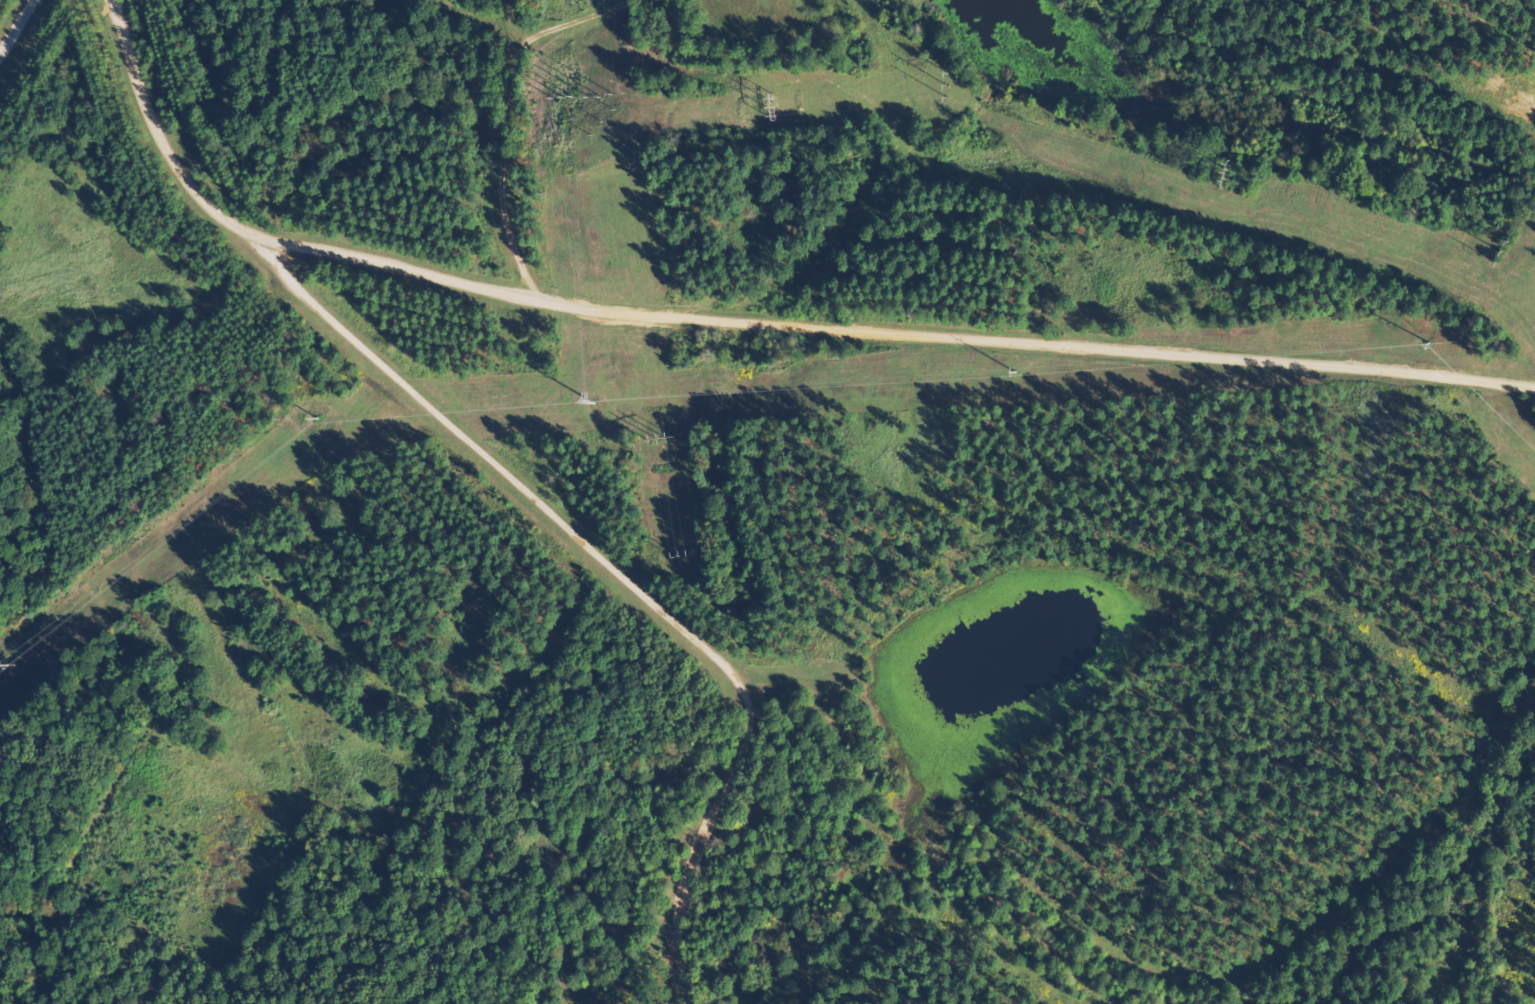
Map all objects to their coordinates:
power tower: (573, 95)
road: (749, 321)
power tower: (1432, 342)
power tower: (1015, 370)
power tower: (610, 402)
power tower: (331, 423)
power tower: (23, 667)

